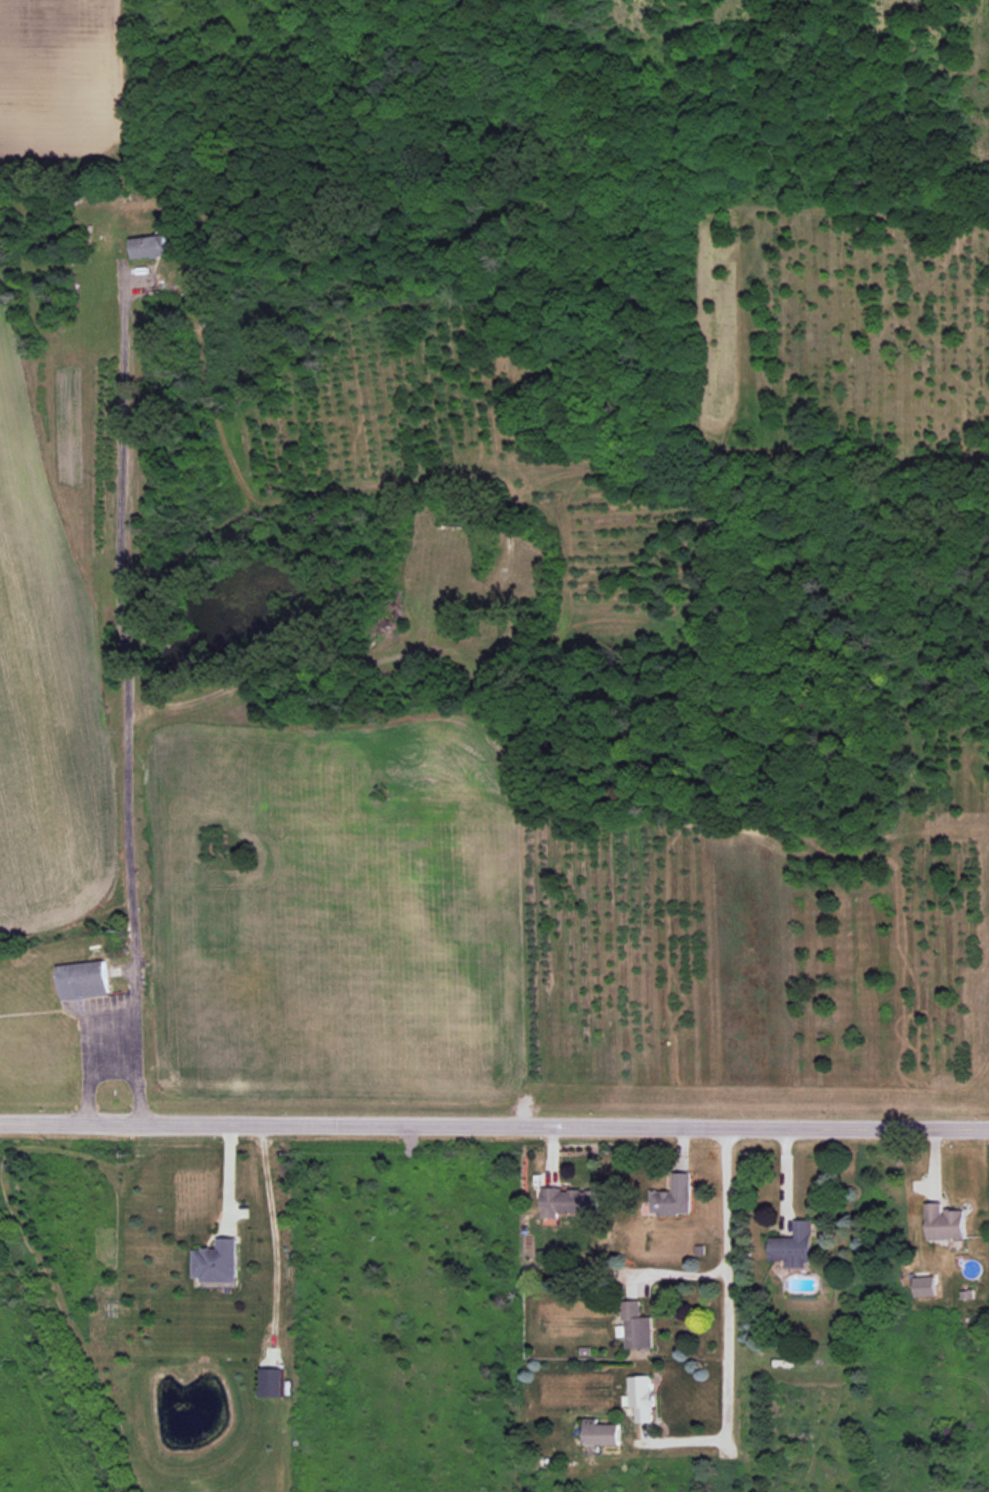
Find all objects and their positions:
building: (149, 246)
road: (127, 697)
building: (82, 980)
road: (88, 1067)
road: (494, 1123)
road: (230, 1177)
road: (788, 1177)
building: (673, 1196)
building: (569, 1201)
building: (945, 1222)
building: (794, 1246)
building: (218, 1261)
road: (726, 1281)
building: (925, 1286)
building: (635, 1326)
building: (271, 1382)
building: (641, 1397)
building: (600, 1433)

